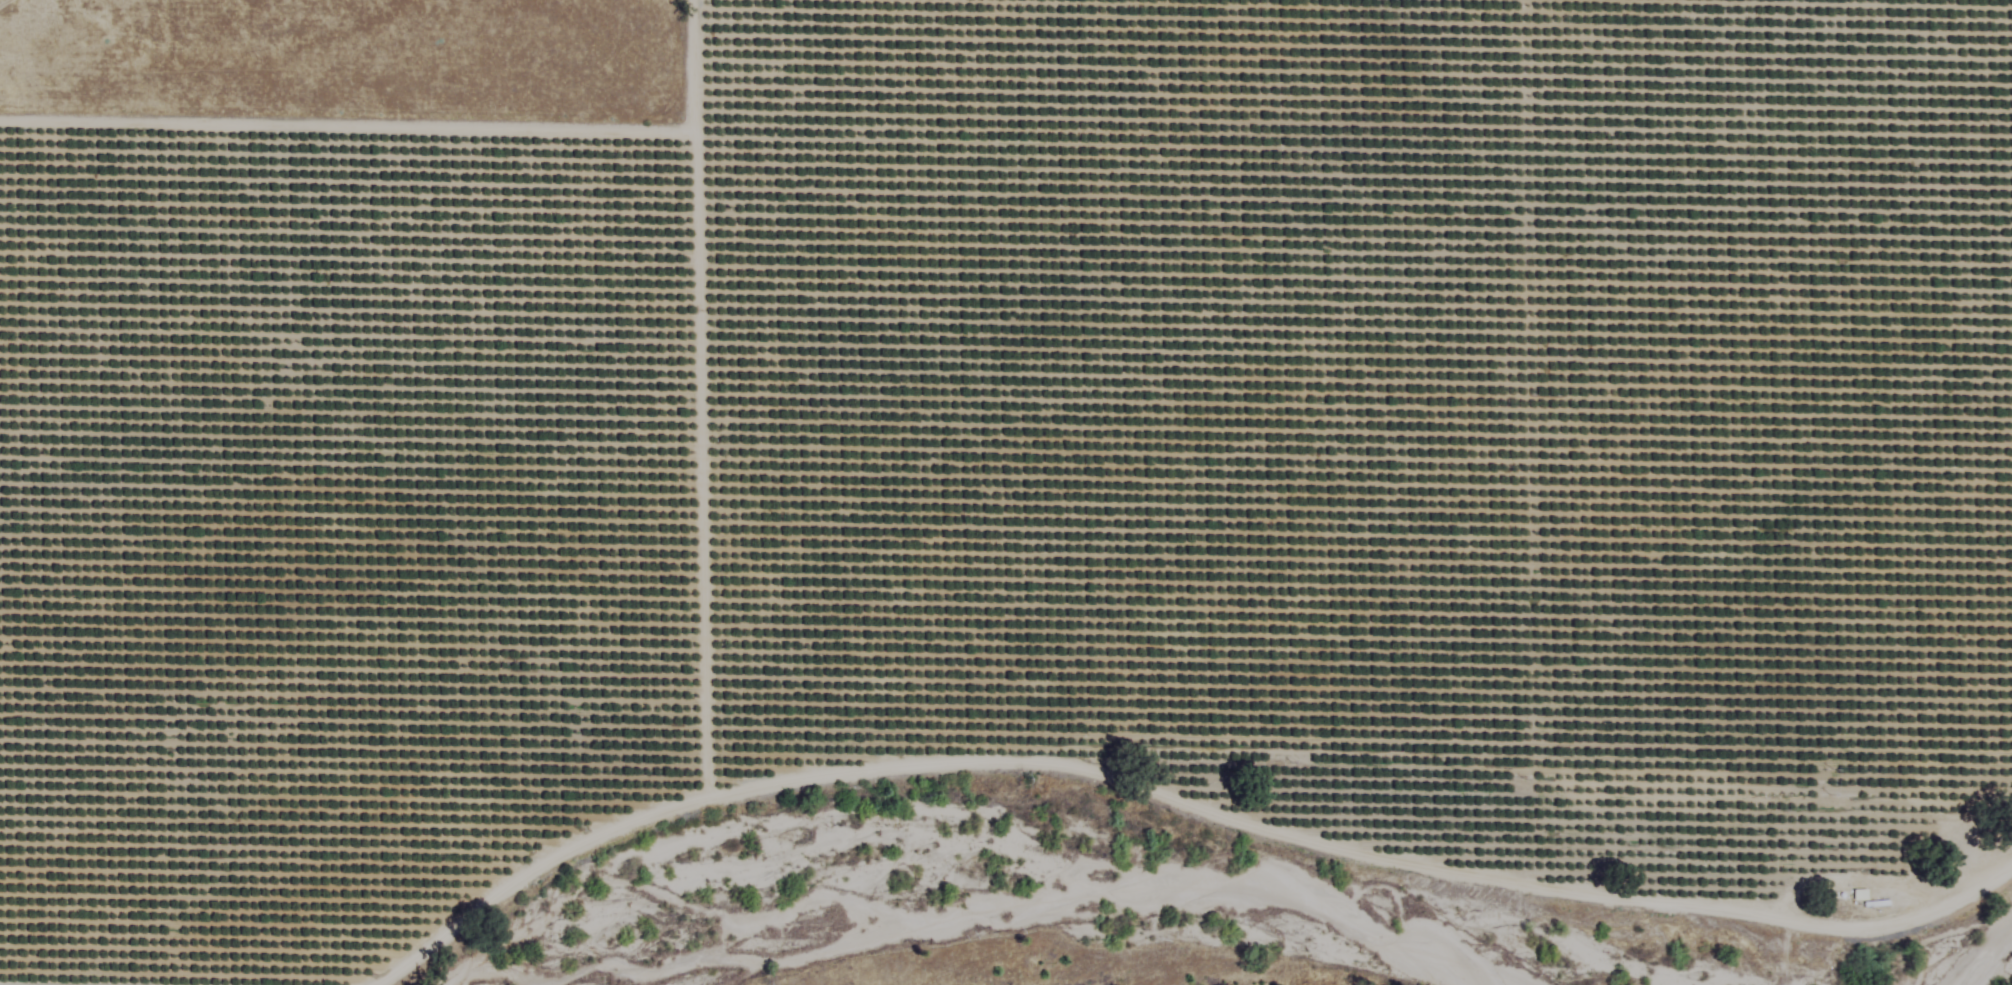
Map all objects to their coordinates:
crop: (994, 439)
road: (1175, 730)

